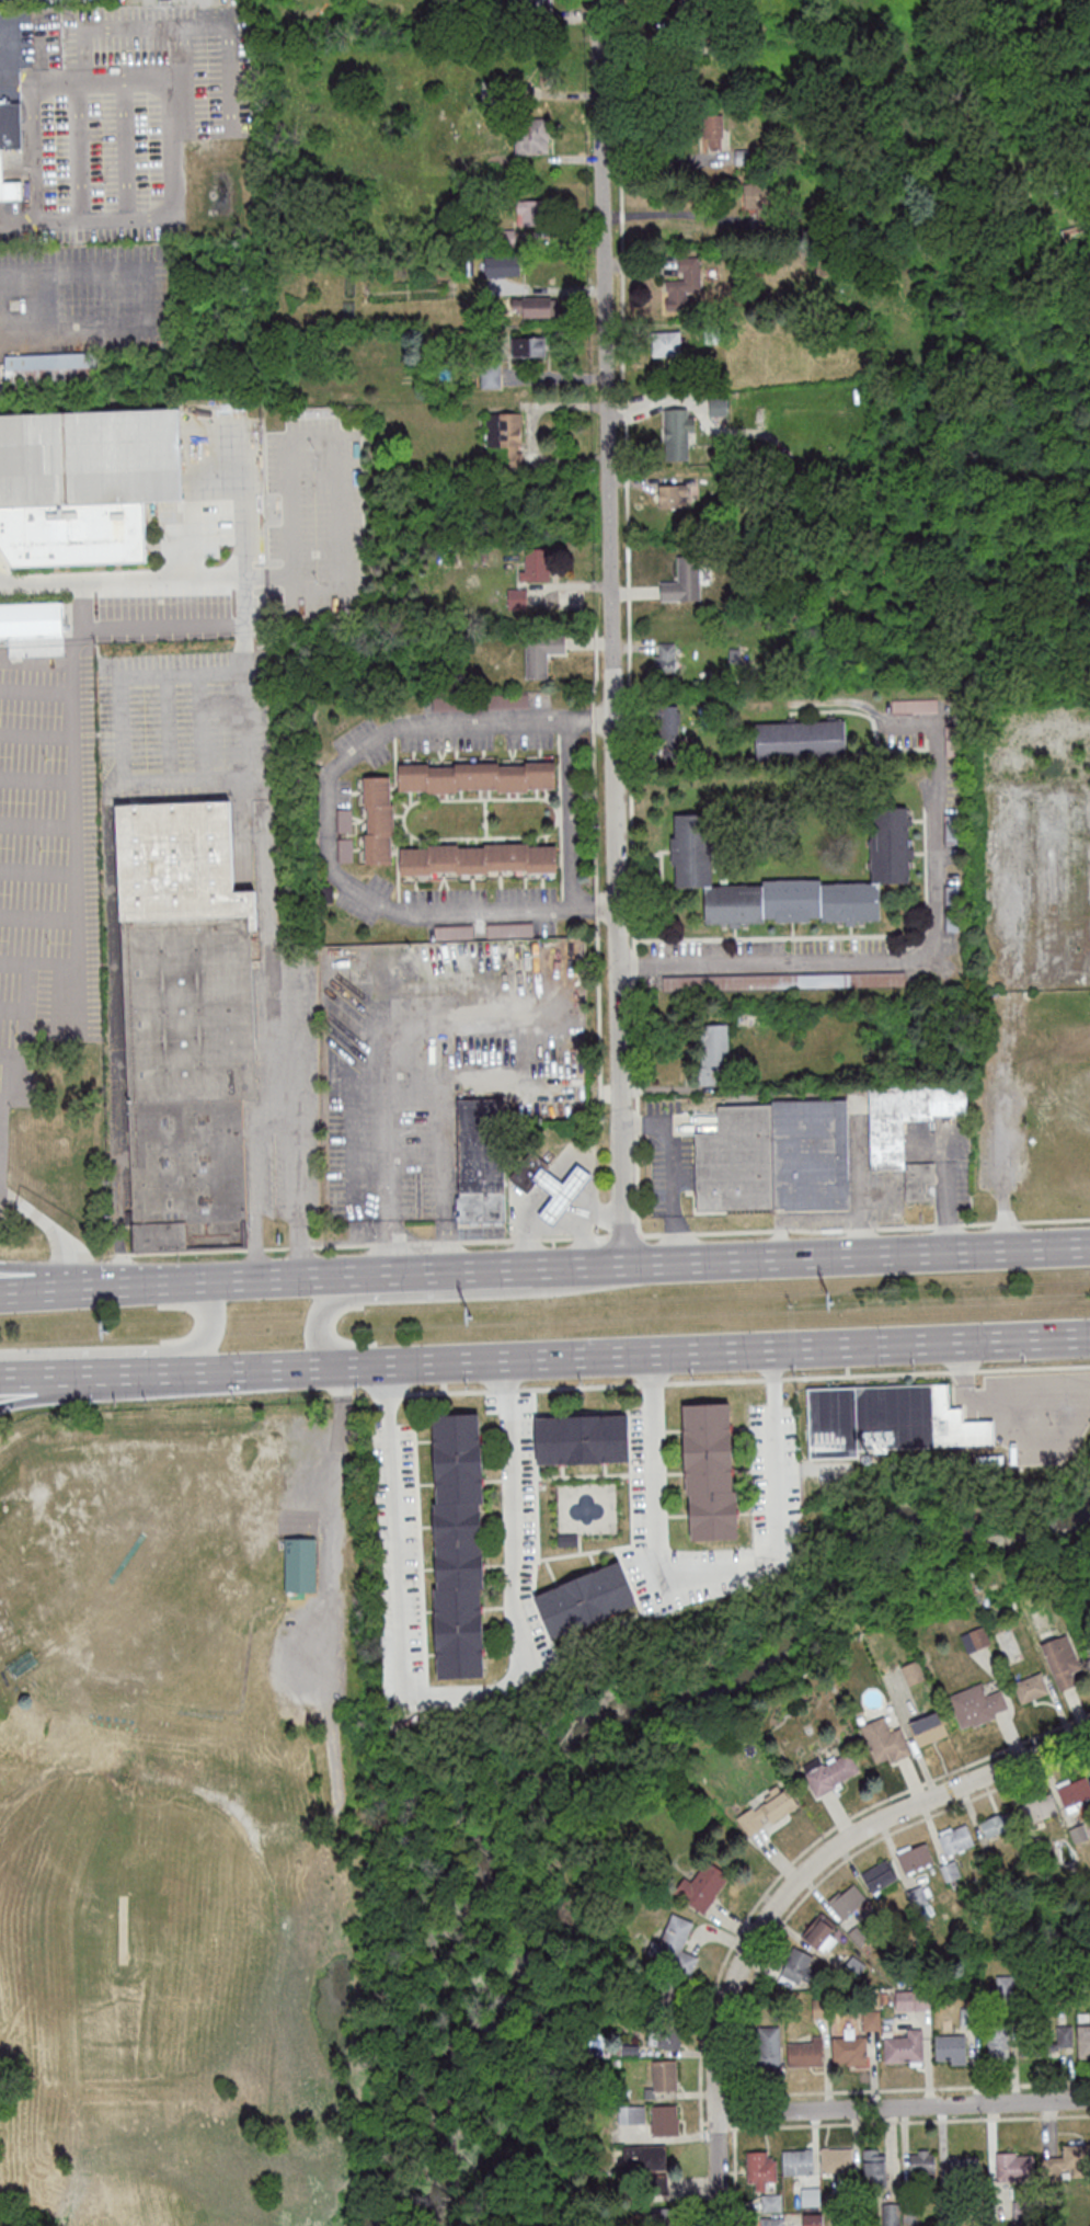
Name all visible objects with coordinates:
building: (539, 4)
building: (684, 5)
road: (12, 45)
road: (90, 82)
road: (7, 85)
building: (713, 130)
building: (532, 135)
building: (10, 148)
road: (167, 149)
road: (106, 150)
road: (67, 151)
building: (533, 212)
road: (666, 213)
road: (83, 219)
building: (685, 283)
road: (149, 297)
building: (533, 307)
road: (0, 319)
building: (666, 343)
building: (535, 345)
building: (49, 366)
building: (491, 375)
building: (719, 406)
building: (679, 433)
building: (505, 435)
road: (337, 471)
building: (83, 483)
building: (674, 494)
building: (536, 567)
building: (684, 581)
building: (517, 597)
building: (33, 628)
road: (611, 631)
building: (541, 653)
building: (666, 657)
building: (668, 724)
road: (124, 731)
building: (801, 739)
building: (478, 776)
road: (328, 799)
road: (260, 803)
road: (570, 814)
building: (378, 820)
building: (892, 846)
building: (479, 858)
road: (79, 879)
road: (596, 907)
road: (932, 920)
building: (783, 981)
building: (186, 1024)
building: (714, 1053)
road: (382, 1054)
road: (413, 1106)
building: (887, 1139)
building: (775, 1156)
building: (481, 1161)
road: (668, 1171)
building: (526, 1172)
road: (560, 1173)
road: (553, 1174)
road: (571, 1182)
road: (546, 1183)
road: (559, 1190)
road: (540, 1191)
building: (557, 1191)
road: (584, 1195)
road: (542, 1196)
road: (530, 1202)
road: (554, 1205)
road: (571, 1212)
road: (593, 1214)
road: (53, 1220)
road: (580, 1235)
road: (524, 1240)
road: (796, 1257)
road: (97, 1268)
road: (426, 1271)
road: (210, 1279)
road: (36, 1289)
road: (439, 1293)
power tower: (833, 1300)
power tower: (472, 1315)
power tower: (108, 1329)
road: (1019, 1337)
road: (134, 1349)
road: (583, 1356)
road: (769, 1370)
road: (126, 1372)
road: (649, 1372)
road: (16, 1375)
road: (502, 1379)
road: (737, 1380)
road: (337, 1382)
road: (108, 1386)
road: (385, 1386)
road: (990, 1399)
building: (885, 1419)
building: (703, 1427)
road: (1035, 1429)
building: (454, 1437)
building: (601, 1439)
building: (555, 1440)
building: (987, 1459)
building: (704, 1472)
building: (456, 1482)
building: (710, 1516)
building: (455, 1526)
road: (334, 1539)
building: (564, 1540)
building: (302, 1565)
building: (457, 1569)
road: (704, 1577)
building: (603, 1593)
building: (559, 1610)
building: (455, 1612)
building: (972, 1639)
building: (1088, 1648)
building: (456, 1656)
building: (1057, 1660)
building: (1088, 1663)
building: (909, 1674)
building: (1028, 1688)
road: (458, 1697)
building: (973, 1704)
building: (925, 1728)
building: (883, 1738)
park: (176, 1742)
river: (497, 1771)
building: (825, 1773)
building: (1074, 1790)
building: (1039, 1808)
building: (764, 1811)
building: (994, 1824)
building: (1078, 1833)
building: (955, 1840)
road: (804, 1848)
building: (1043, 1853)
building: (915, 1857)
building: (950, 1870)
building: (879, 1874)
building: (698, 1888)
road: (784, 1893)
building: (914, 1896)
building: (846, 1900)
building: (823, 1934)
building: (672, 1947)
building: (795, 1964)
building: (853, 1967)
building: (1002, 1985)
building: (661, 1996)
building: (909, 1998)
building: (871, 2001)
road: (741, 2004)
building: (816, 2008)
building: (964, 2017)
building: (868, 2020)
building: (666, 2032)
building: (995, 2041)
building: (1042, 2042)
building: (1082, 2042)
building: (764, 2047)
building: (846, 2047)
building: (902, 2047)
building: (946, 2048)
building: (628, 2050)
building: (802, 2053)
building: (661, 2076)
road: (746, 2099)
road: (902, 2107)
road: (743, 2112)
building: (630, 2114)
building: (663, 2120)
road: (907, 2120)
road: (702, 2122)
road: (739, 2123)
road: (715, 2124)
road: (704, 2133)
building: (835, 2159)
building: (1066, 2160)
building: (796, 2161)
building: (1012, 2166)
building: (872, 2167)
building: (920, 2167)
building: (758, 2168)
building: (643, 2169)
building: (962, 2173)
building: (850, 2194)
building: (808, 2195)
building: (769, 2201)
building: (1021, 2212)
building: (890, 2214)
building: (946, 2214)
building: (908, 2215)
building: (663, 2216)
building: (811, 2219)
building: (770, 2222)

